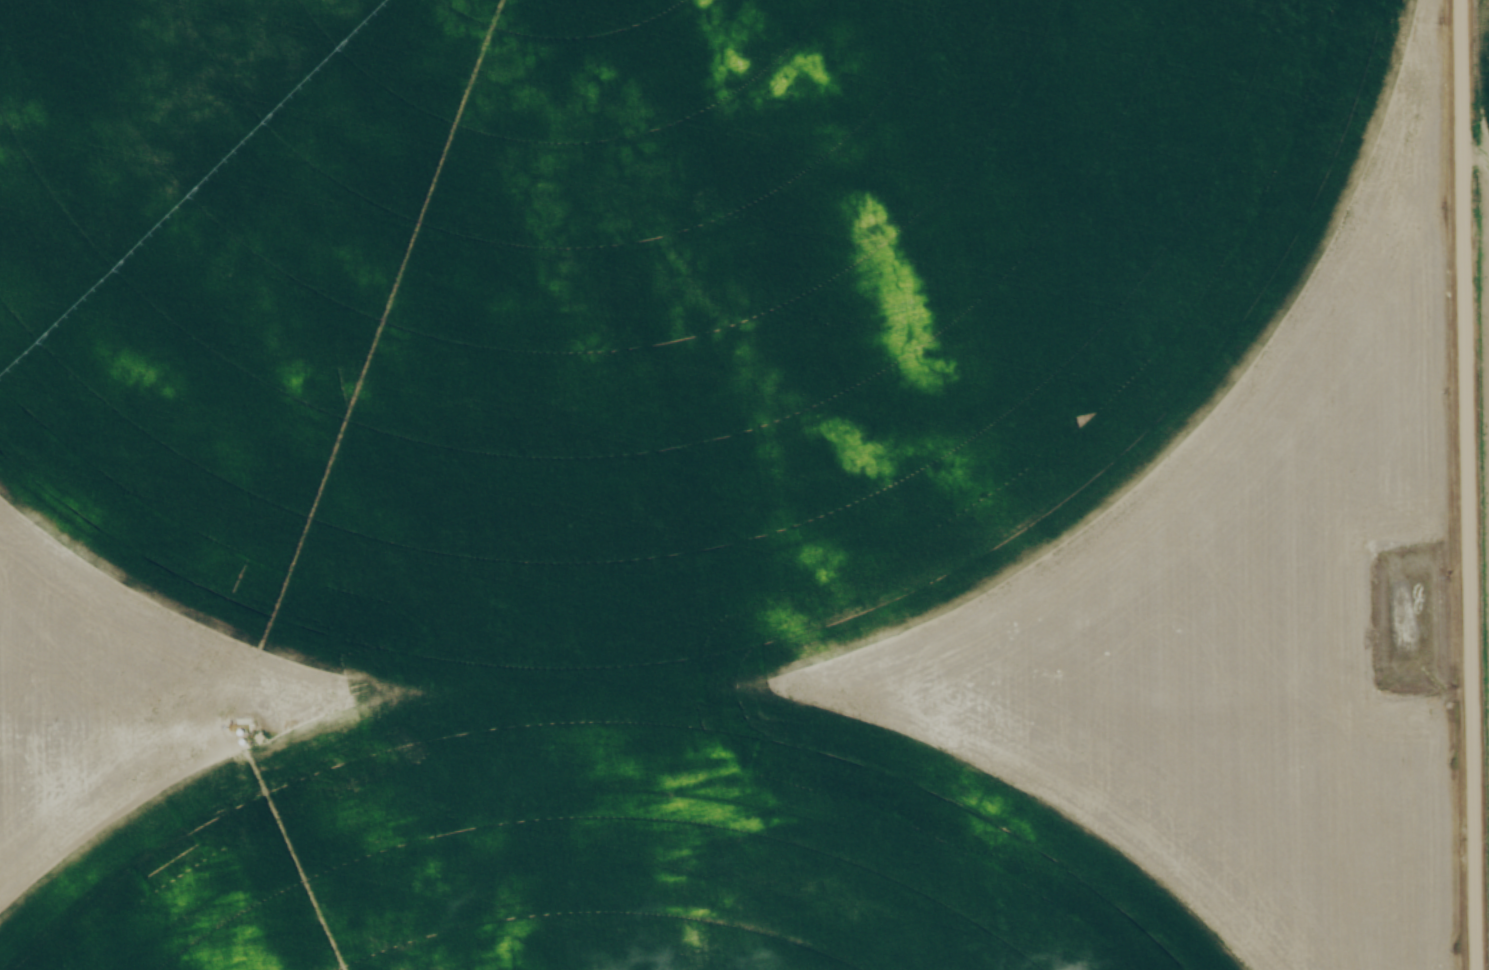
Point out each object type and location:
road: (1467, 484)

